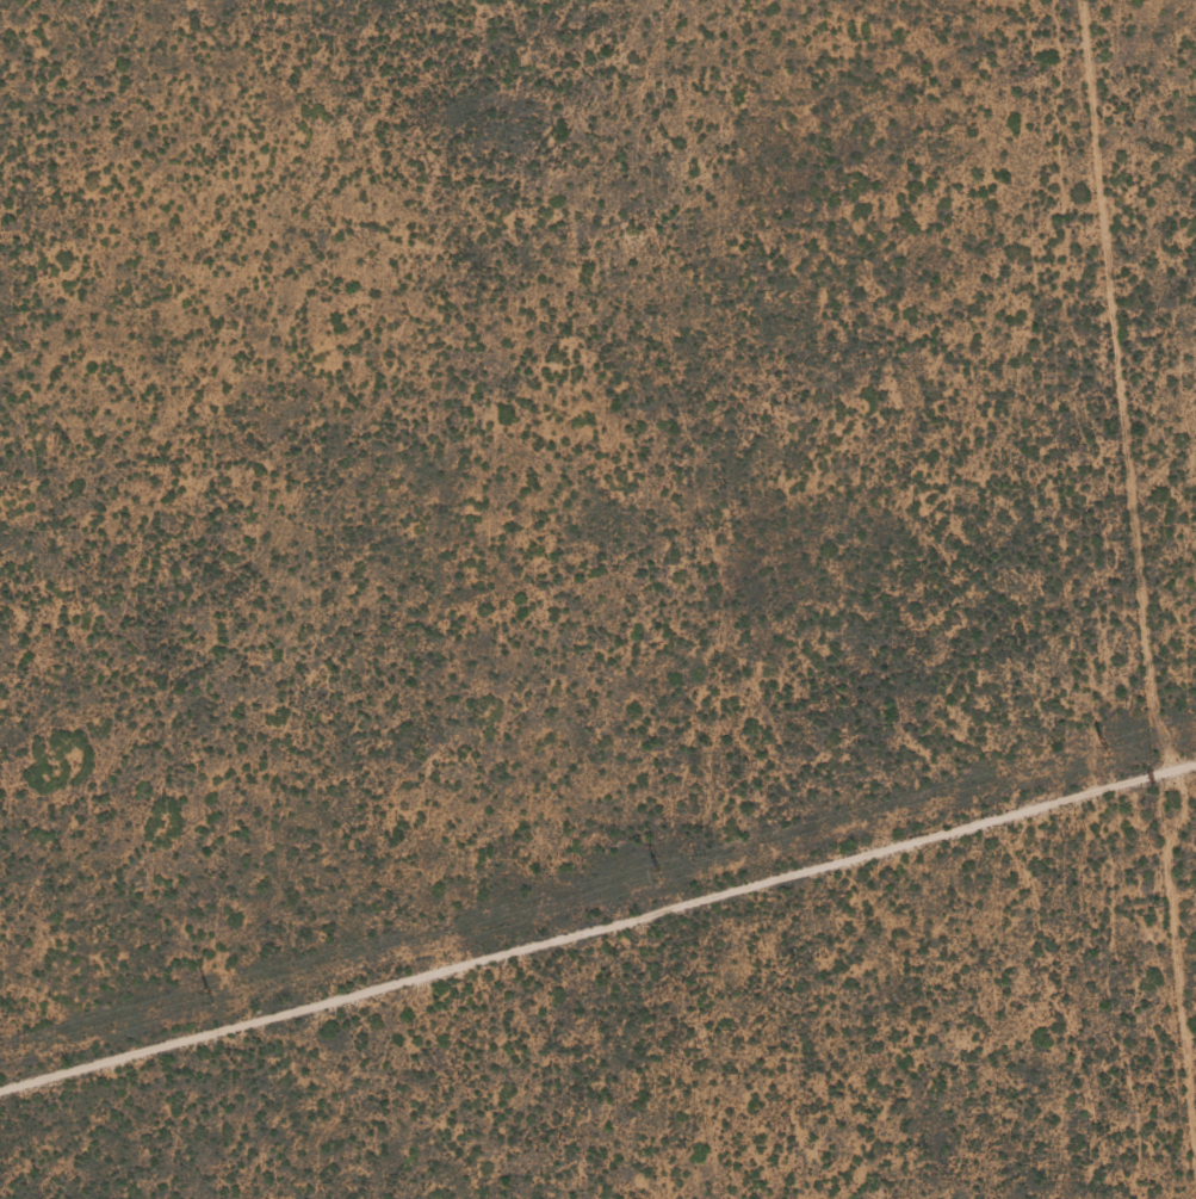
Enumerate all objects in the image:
power tower: (1105, 753)
power tower: (657, 876)
power tower: (209, 999)

